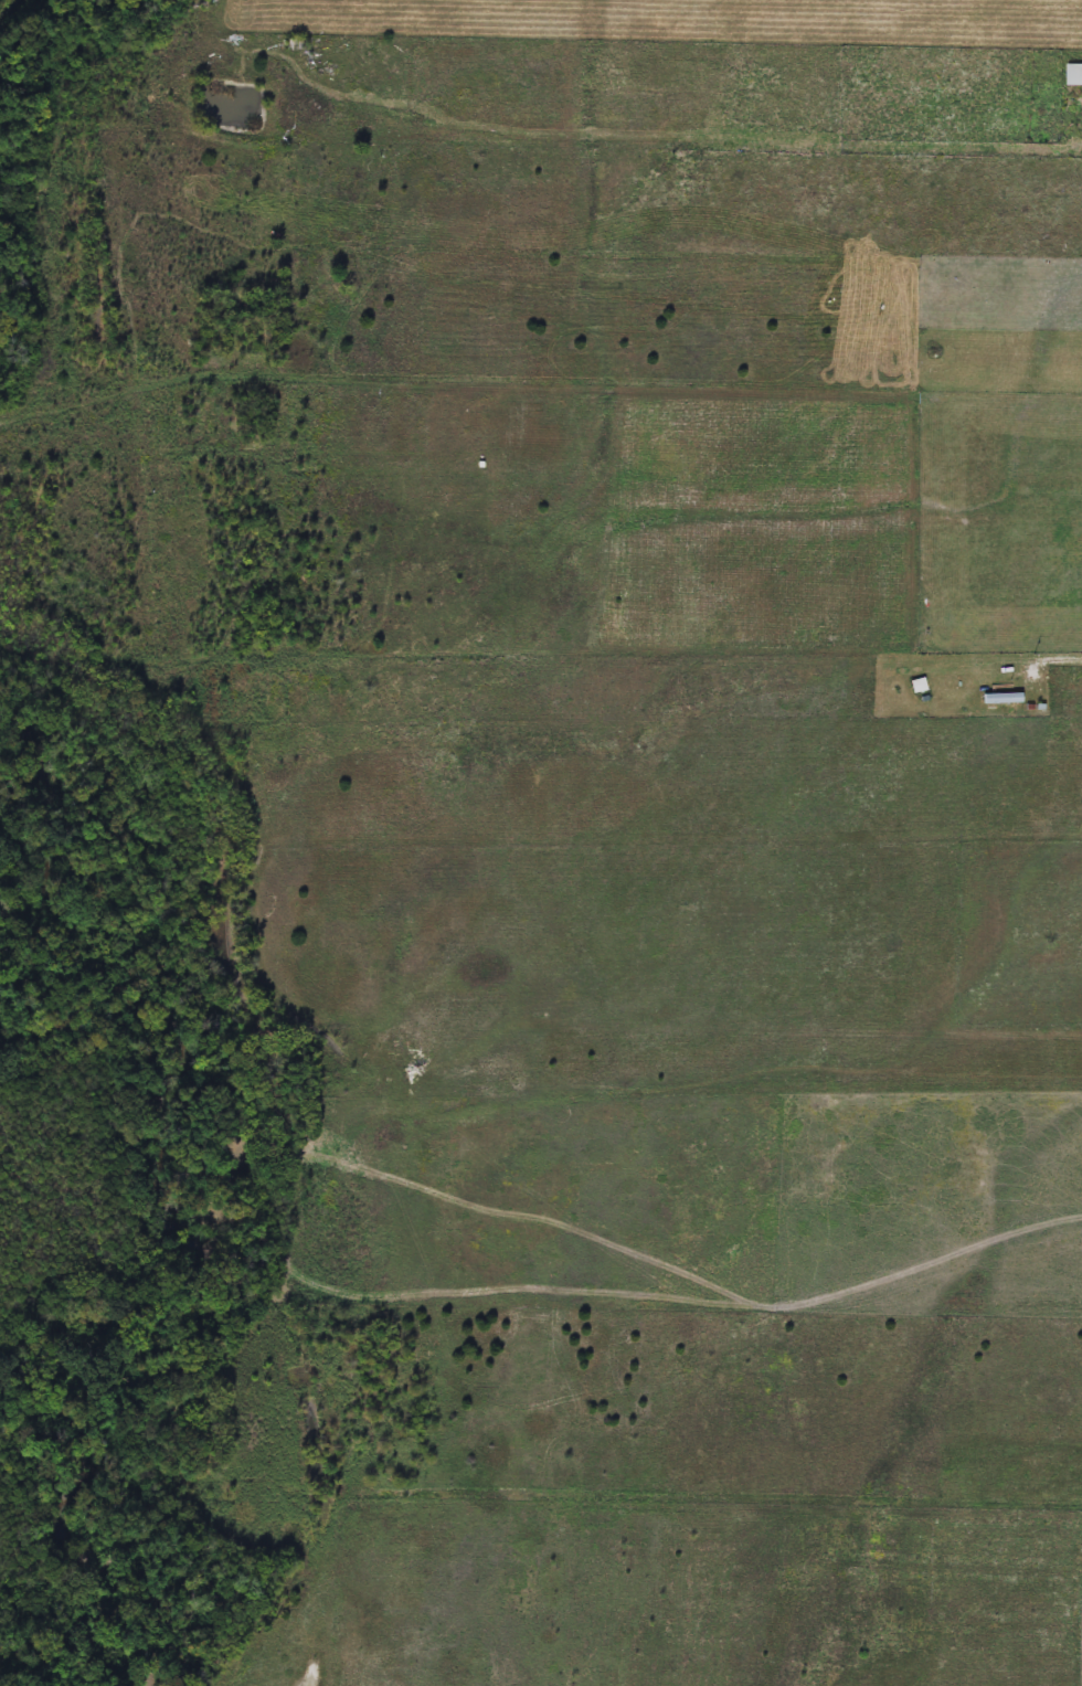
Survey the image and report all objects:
road: (1003, 657)

